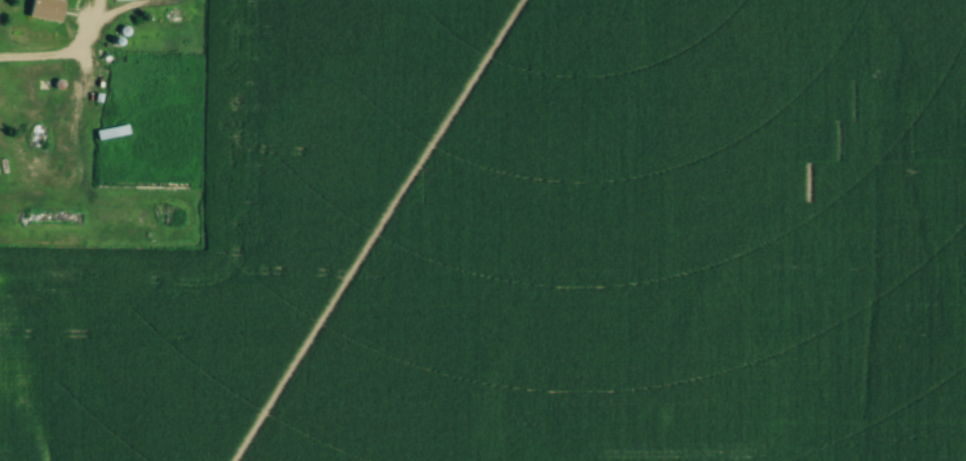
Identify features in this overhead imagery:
building: (46, 10)
road: (85, 35)
building: (17, 98)
building: (111, 133)

